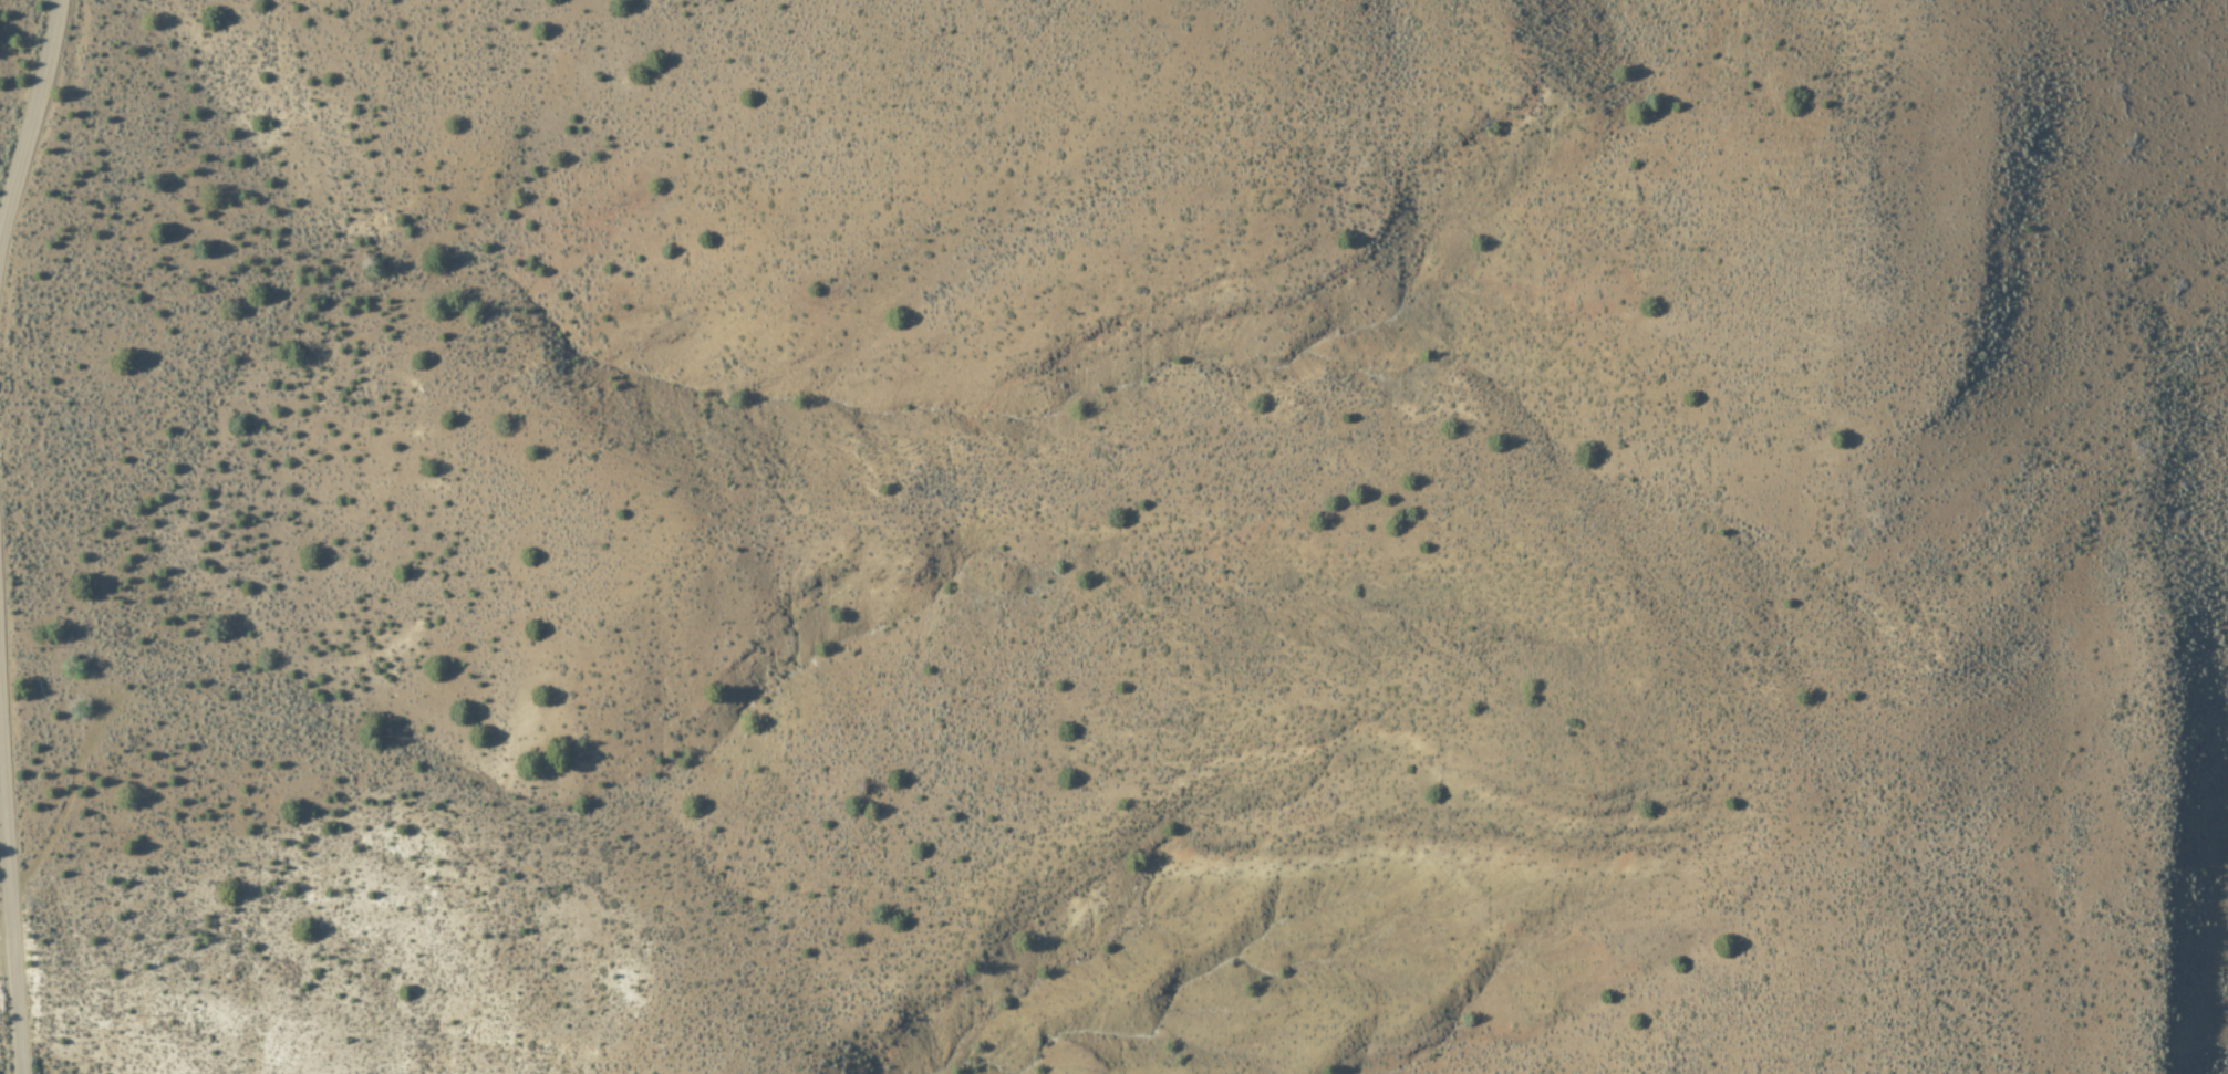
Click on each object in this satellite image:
road: (31, 118)
road: (10, 904)

